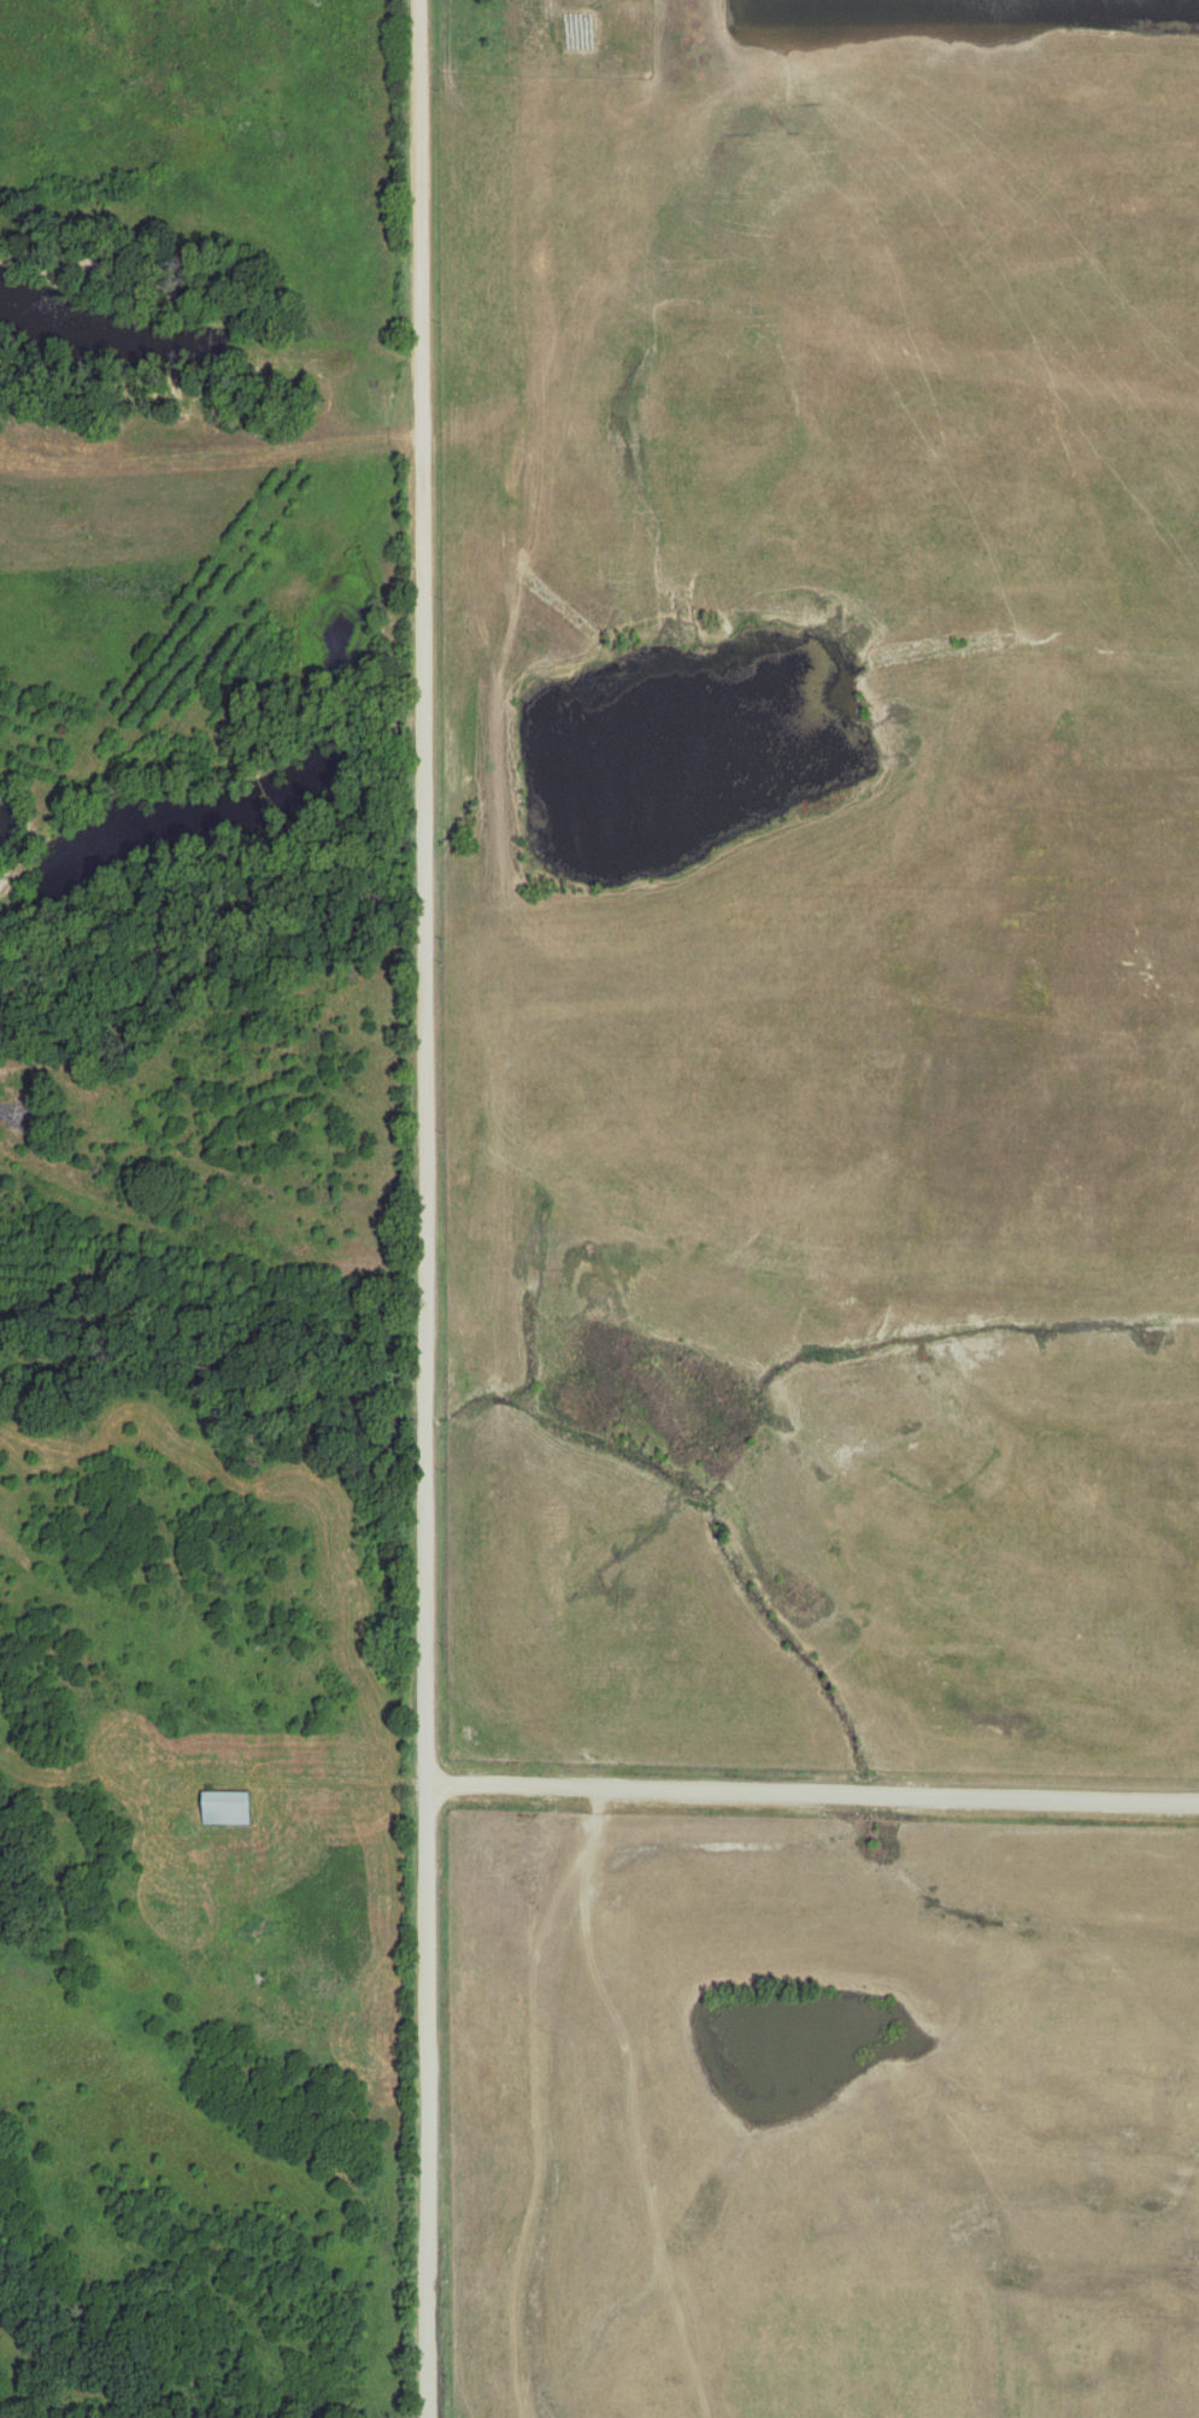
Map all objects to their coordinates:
road: (424, 891)
road: (315, 1779)
road: (813, 1795)
road: (428, 2100)

